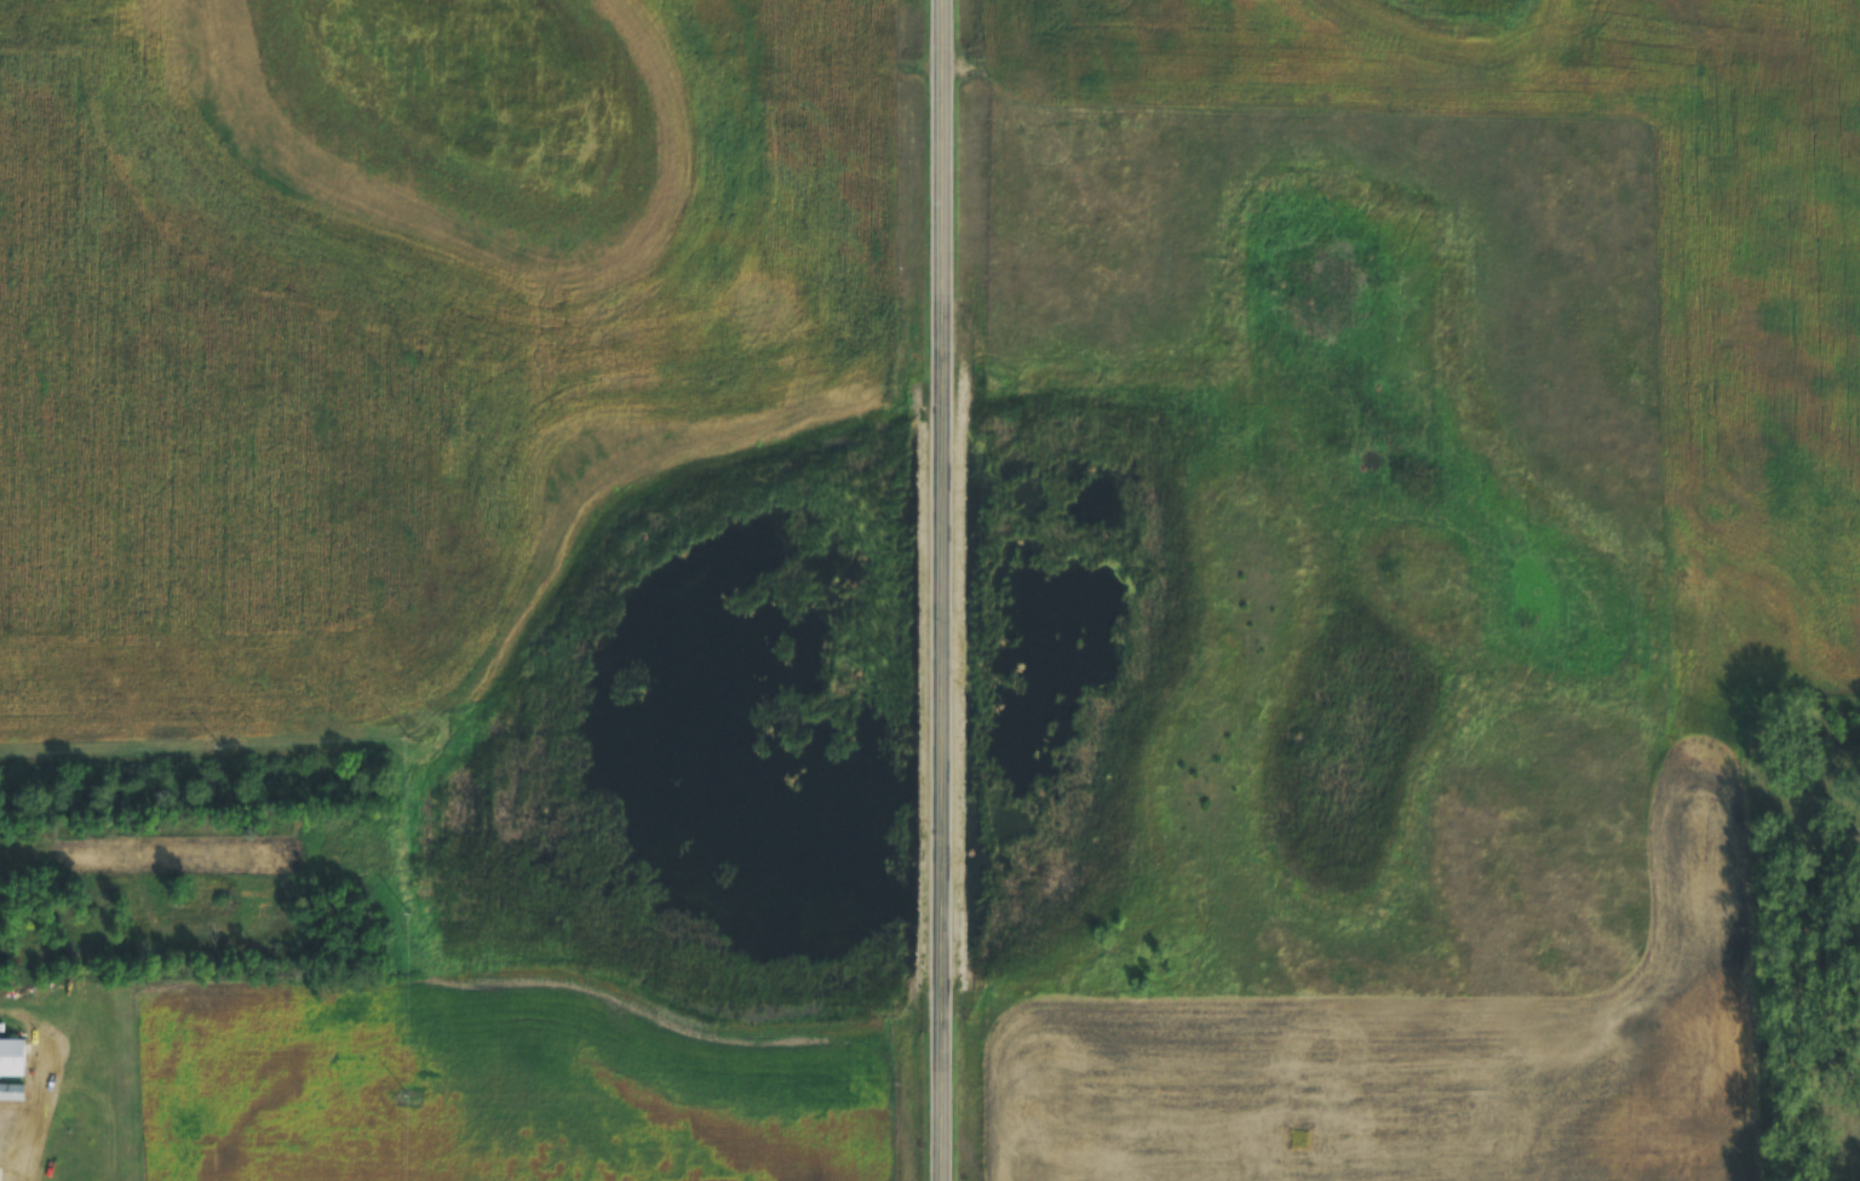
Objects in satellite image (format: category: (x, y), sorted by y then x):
road: (947, 590)
building: (12, 1057)
building: (12, 1093)

